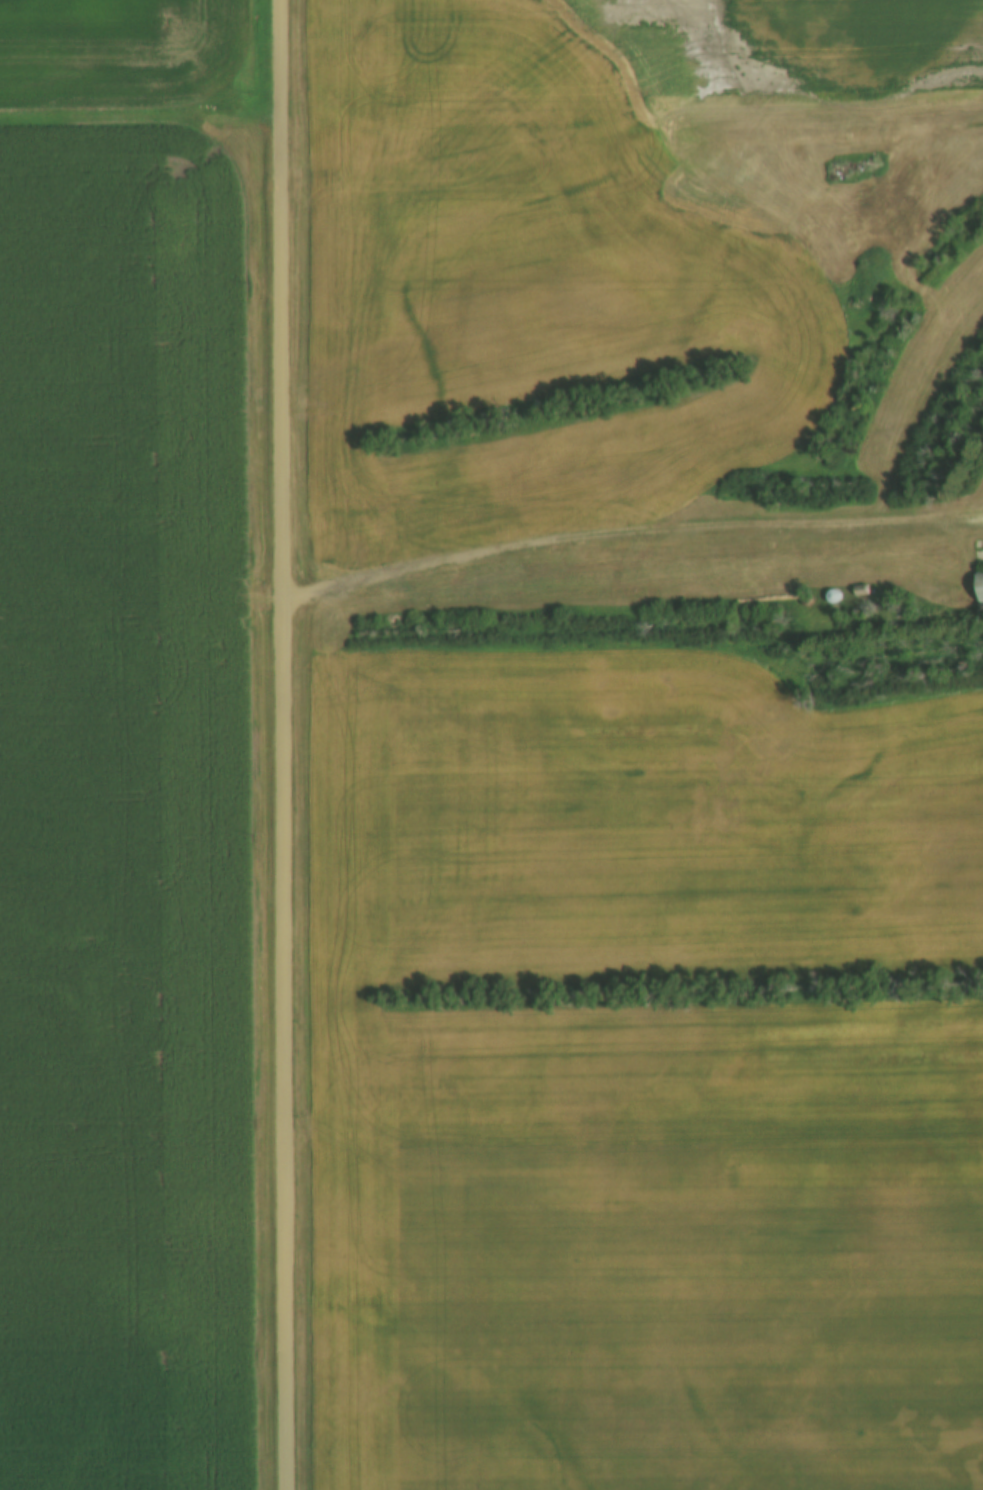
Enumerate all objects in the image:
road: (142, 124)
road: (626, 527)
building: (981, 584)
road: (284, 744)
road: (636, 1211)

